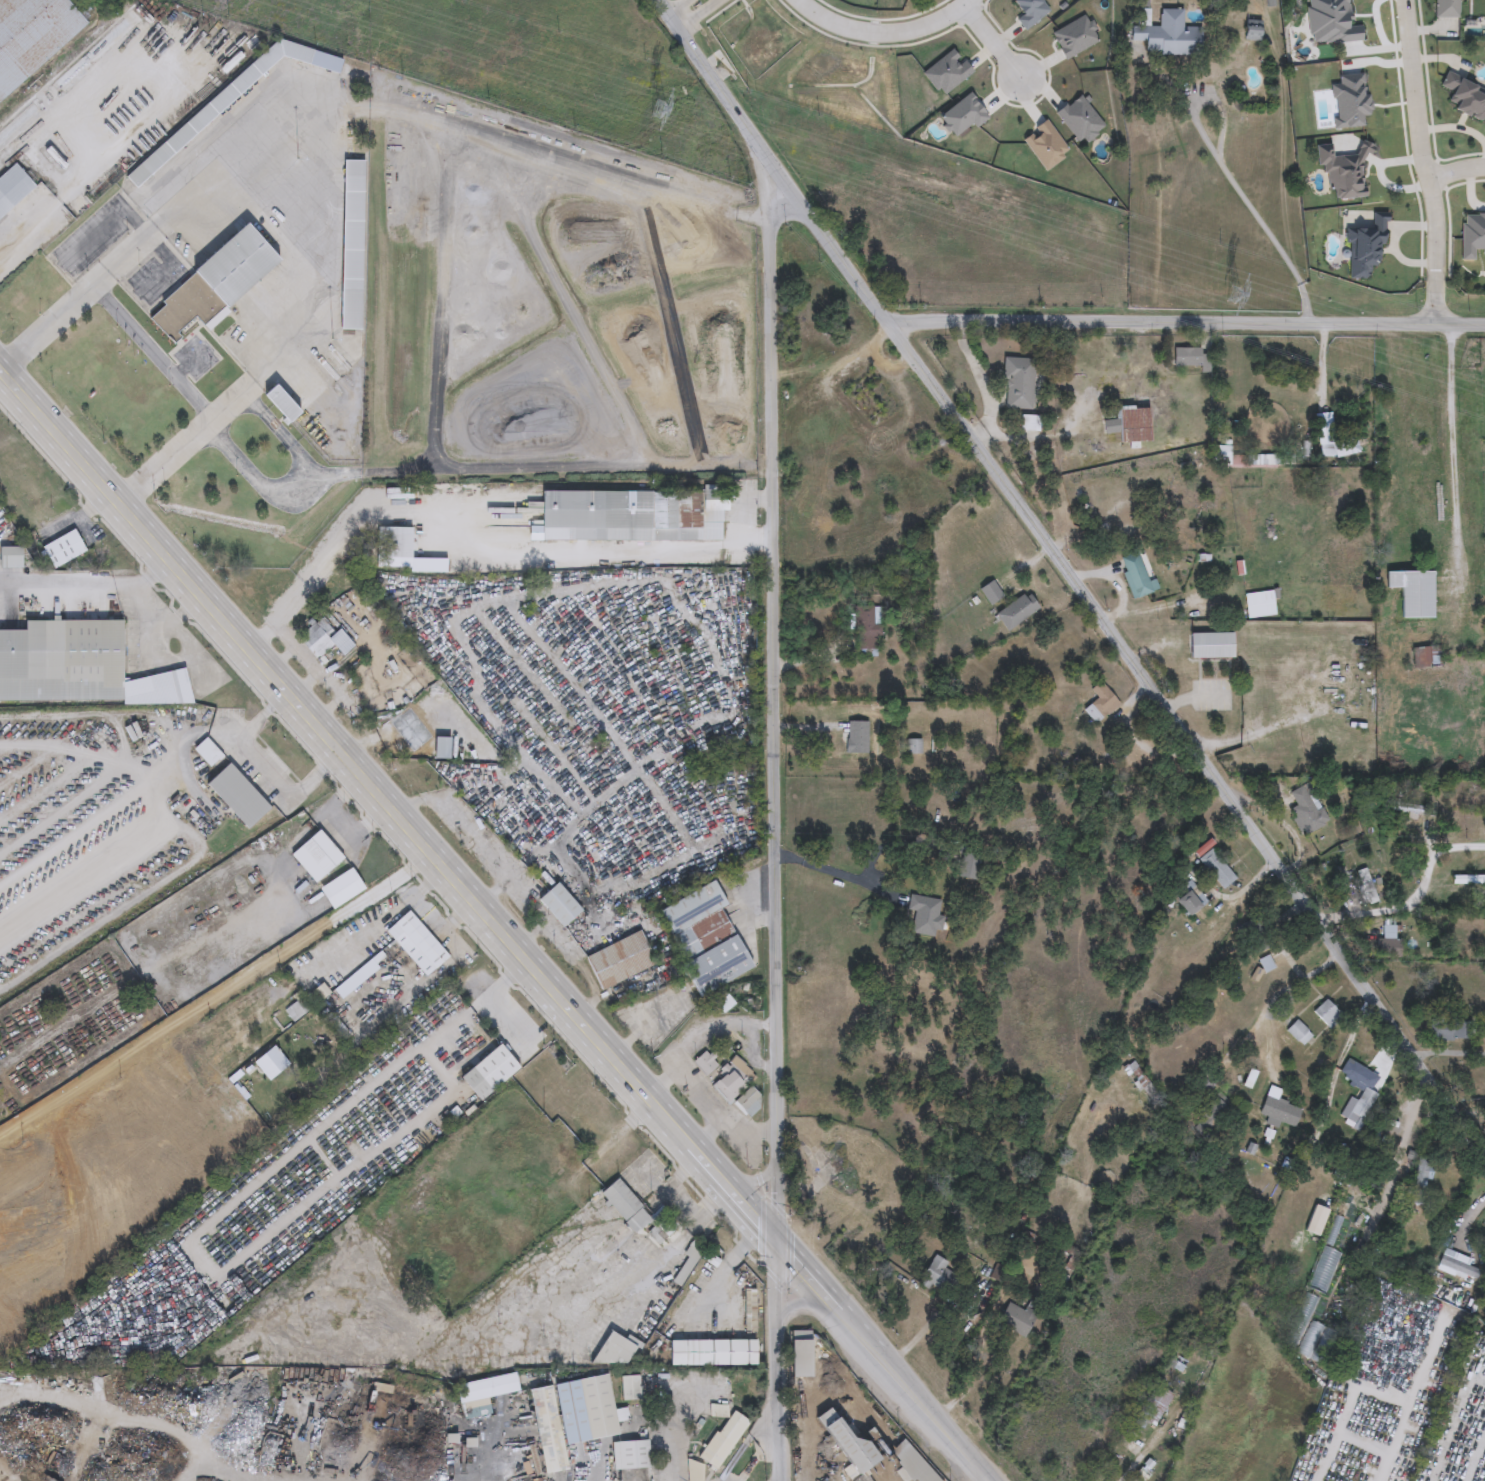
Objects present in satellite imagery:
road: (680, 6)
building: (1447, 9)
road: (702, 14)
road: (882, 30)
building: (1252, 31)
building: (1166, 35)
building: (32, 36)
road: (994, 43)
road: (141, 46)
building: (226, 95)
power tower: (657, 110)
road: (1220, 112)
road: (1418, 139)
building: (149, 164)
road: (776, 165)
road: (1456, 175)
building: (13, 189)
road: (272, 194)
road: (1242, 195)
road: (1468, 195)
road: (42, 216)
building: (351, 245)
road: (96, 277)
building: (211, 286)
power tower: (1231, 294)
road: (1436, 301)
road: (1188, 323)
road: (149, 351)
building: (1186, 357)
road: (980, 382)
building: (1019, 384)
road: (228, 399)
building: (286, 410)
building: (1141, 425)
road: (1451, 446)
building: (1338, 448)
road: (92, 473)
building: (633, 515)
road: (744, 518)
building: (400, 546)
building: (63, 549)
road: (598, 549)
building: (10, 557)
building: (1139, 577)
building: (1303, 583)
road: (64, 585)
road: (515, 592)
building: (991, 593)
building: (1414, 593)
building: (1261, 605)
road: (141, 610)
building: (1017, 611)
building: (867, 629)
building: (325, 640)
building: (1211, 646)
building: (1428, 657)
building: (77, 666)
road: (565, 679)
road: (538, 687)
road: (511, 698)
building: (1101, 704)
road: (91, 716)
road: (196, 724)
road: (226, 732)
road: (1191, 737)
building: (857, 738)
road: (1136, 739)
building: (913, 747)
building: (441, 748)
building: (207, 753)
road: (76, 754)
road: (267, 764)
building: (237, 796)
building: (1403, 808)
building: (1306, 811)
building: (1467, 816)
road: (775, 820)
road: (72, 836)
road: (486, 855)
building: (316, 857)
building: (1214, 866)
road: (836, 874)
road: (170, 878)
building: (1469, 880)
road: (500, 883)
building: (1367, 887)
building: (341, 890)
road: (1230, 897)
road: (1416, 901)
building: (1189, 904)
building: (559, 905)
road: (482, 906)
building: (926, 916)
road: (380, 920)
road: (443, 928)
road: (1279, 937)
building: (1263, 939)
building: (705, 940)
building: (1389, 940)
building: (416, 941)
building: (620, 961)
road: (422, 980)
road: (1281, 992)
road: (215, 996)
road: (478, 1005)
building: (1327, 1014)
road: (696, 1030)
building: (1451, 1030)
building: (1299, 1033)
road: (752, 1054)
building: (705, 1064)
building: (488, 1073)
building: (732, 1081)
building: (1360, 1086)
building: (748, 1101)
road: (707, 1108)
building: (1214, 1113)
building: (1280, 1114)
road: (748, 1129)
road: (1403, 1146)
road: (752, 1180)
building: (1421, 1181)
building: (637, 1213)
road: (1465, 1219)
traffic signals: (777, 1241)
building: (1457, 1266)
building: (940, 1277)
road: (800, 1304)
building: (1020, 1317)
road: (971, 1319)
building: (1312, 1340)
building: (615, 1352)
building: (710, 1353)
road: (882, 1361)
building: (1178, 1364)
building: (488, 1389)
building: (630, 1389)
road: (1411, 1391)
building: (1155, 1406)
building: (570, 1418)
road: (1352, 1439)
building: (723, 1441)
road: (197, 1459)
road: (1137, 1464)
road: (437, 1471)
building: (694, 1472)
road: (980, 1477)

